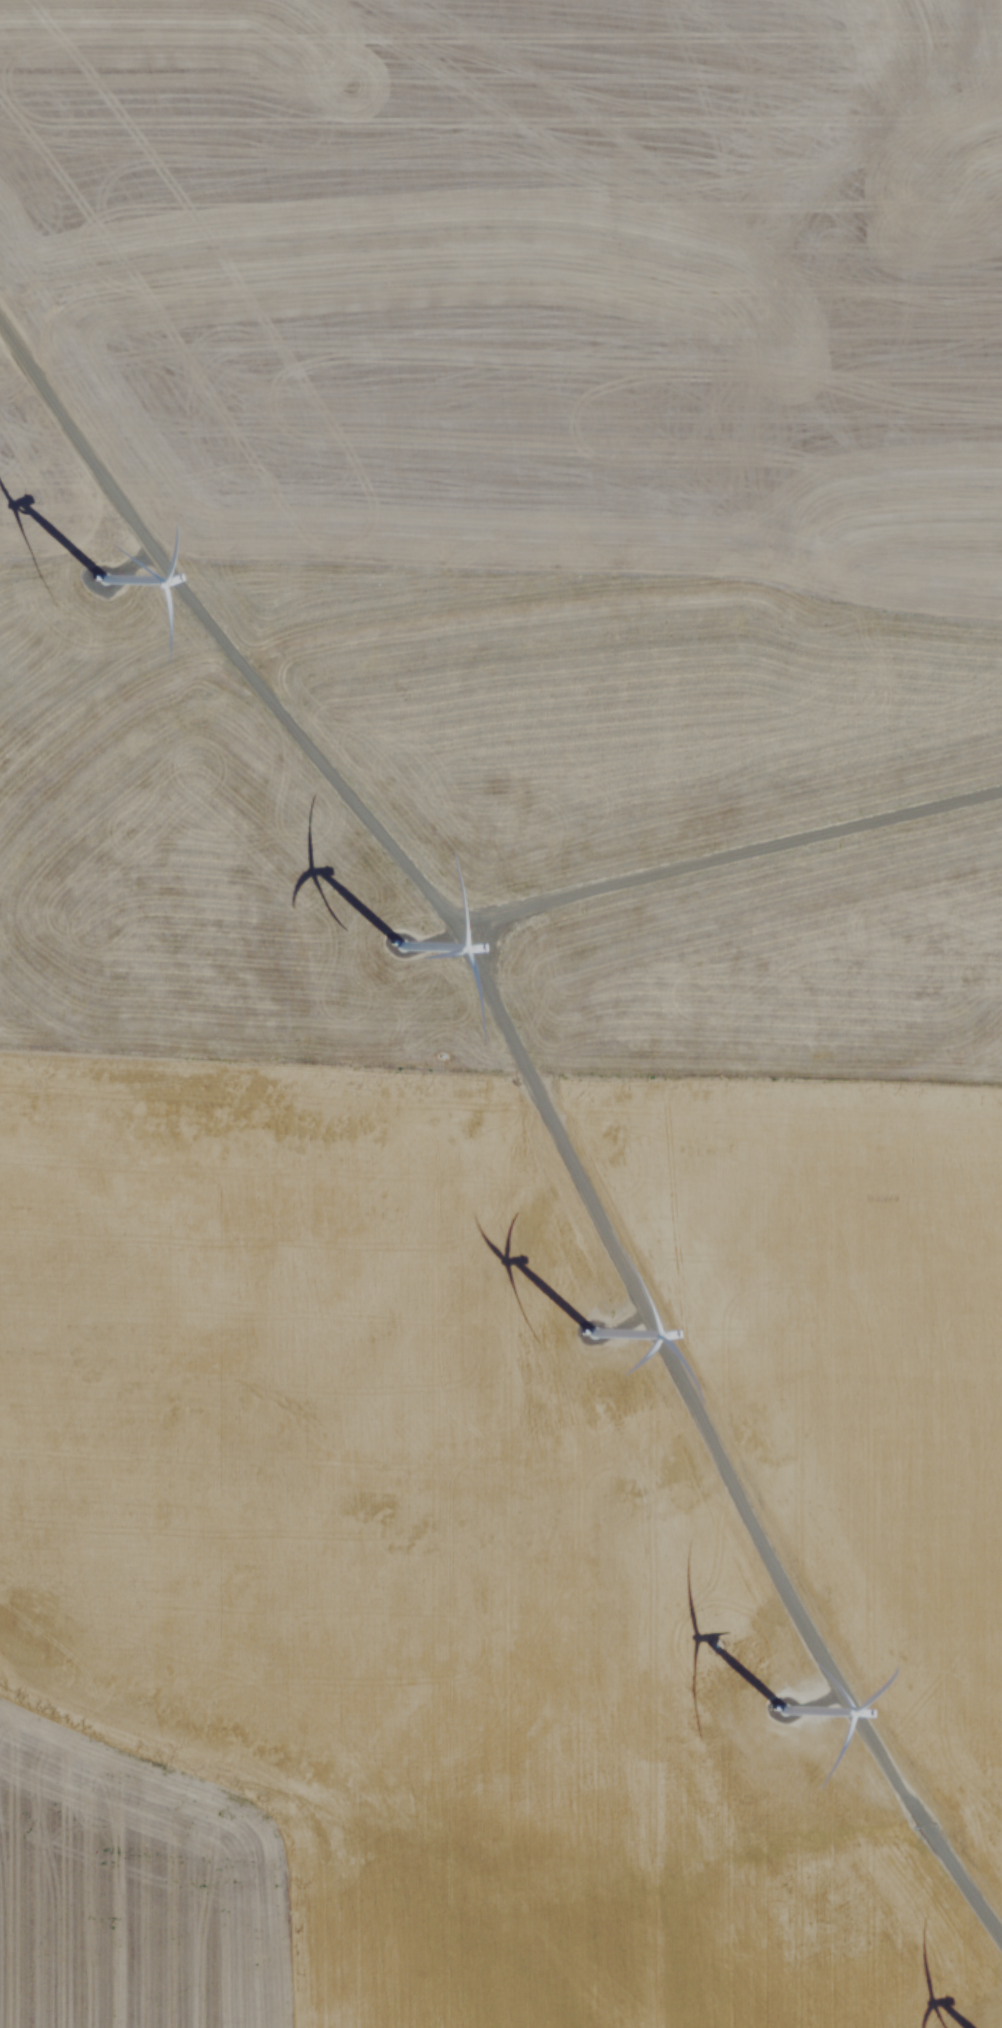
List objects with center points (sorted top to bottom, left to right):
wind turbine: (108, 590)
wind turbine: (404, 950)
road: (545, 1097)
wind turbine: (595, 1337)
wind turbine: (782, 1719)

